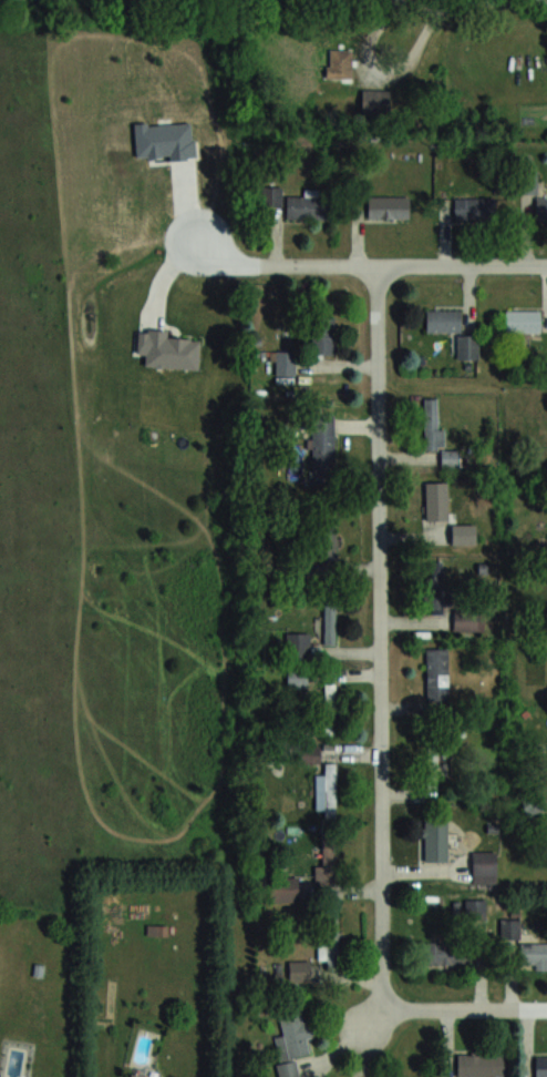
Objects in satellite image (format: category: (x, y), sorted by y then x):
building: (339, 64)
building: (528, 182)
building: (271, 195)
building: (307, 206)
building: (388, 206)
building: (472, 209)
building: (540, 209)
road: (369, 264)
building: (522, 319)
building: (443, 321)
building: (322, 335)
building: (464, 346)
building: (285, 363)
building: (436, 434)
building: (322, 443)
building: (545, 467)
building: (438, 516)
building: (324, 540)
building: (434, 587)
building: (468, 620)
building: (329, 622)
road: (381, 637)
building: (298, 646)
building: (436, 673)
building: (297, 679)
building: (330, 705)
building: (308, 754)
building: (434, 769)
building: (326, 790)
building: (435, 840)
building: (327, 860)
building: (484, 866)
building: (283, 888)
building: (475, 908)
building: (509, 927)
building: (157, 929)
building: (329, 938)
building: (445, 953)
building: (533, 954)
building: (298, 971)
road: (466, 1008)
building: (292, 1043)
building: (481, 1065)
building: (540, 1066)
building: (132, 1076)

